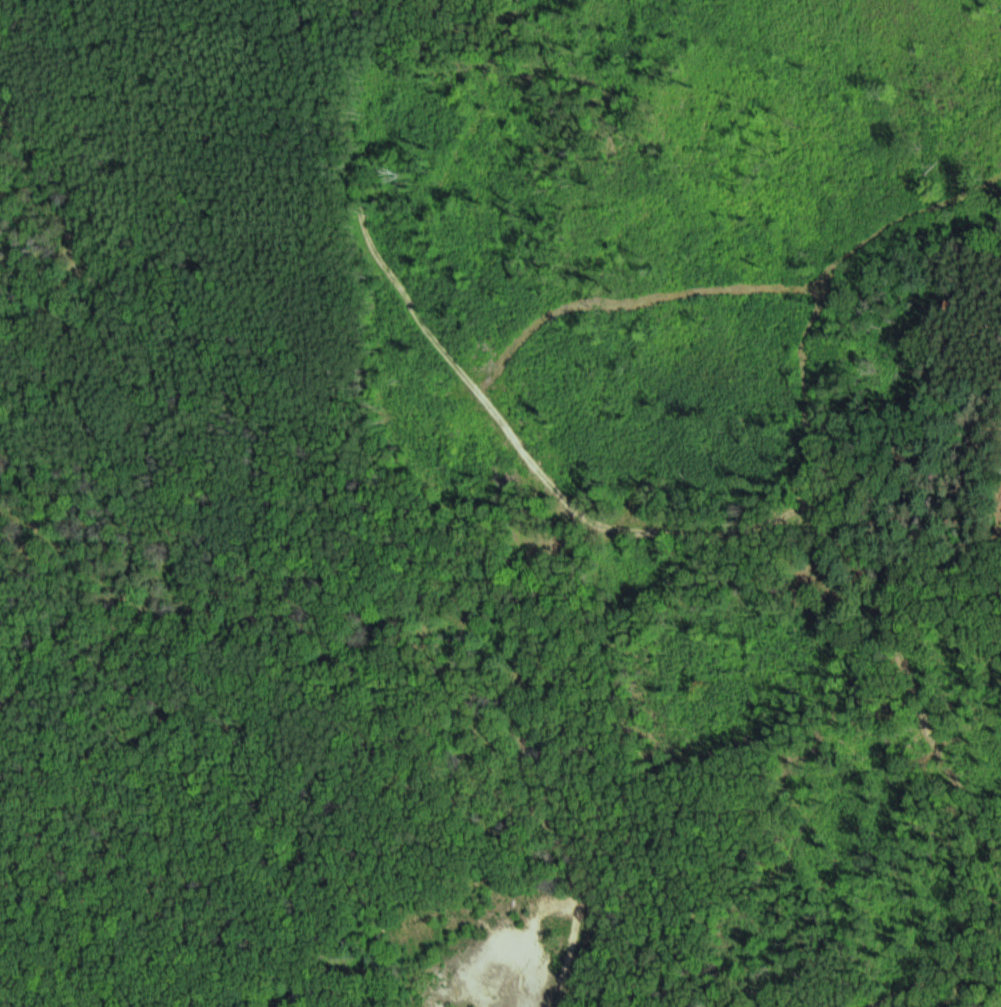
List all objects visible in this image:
road: (755, 169)
road: (950, 979)

